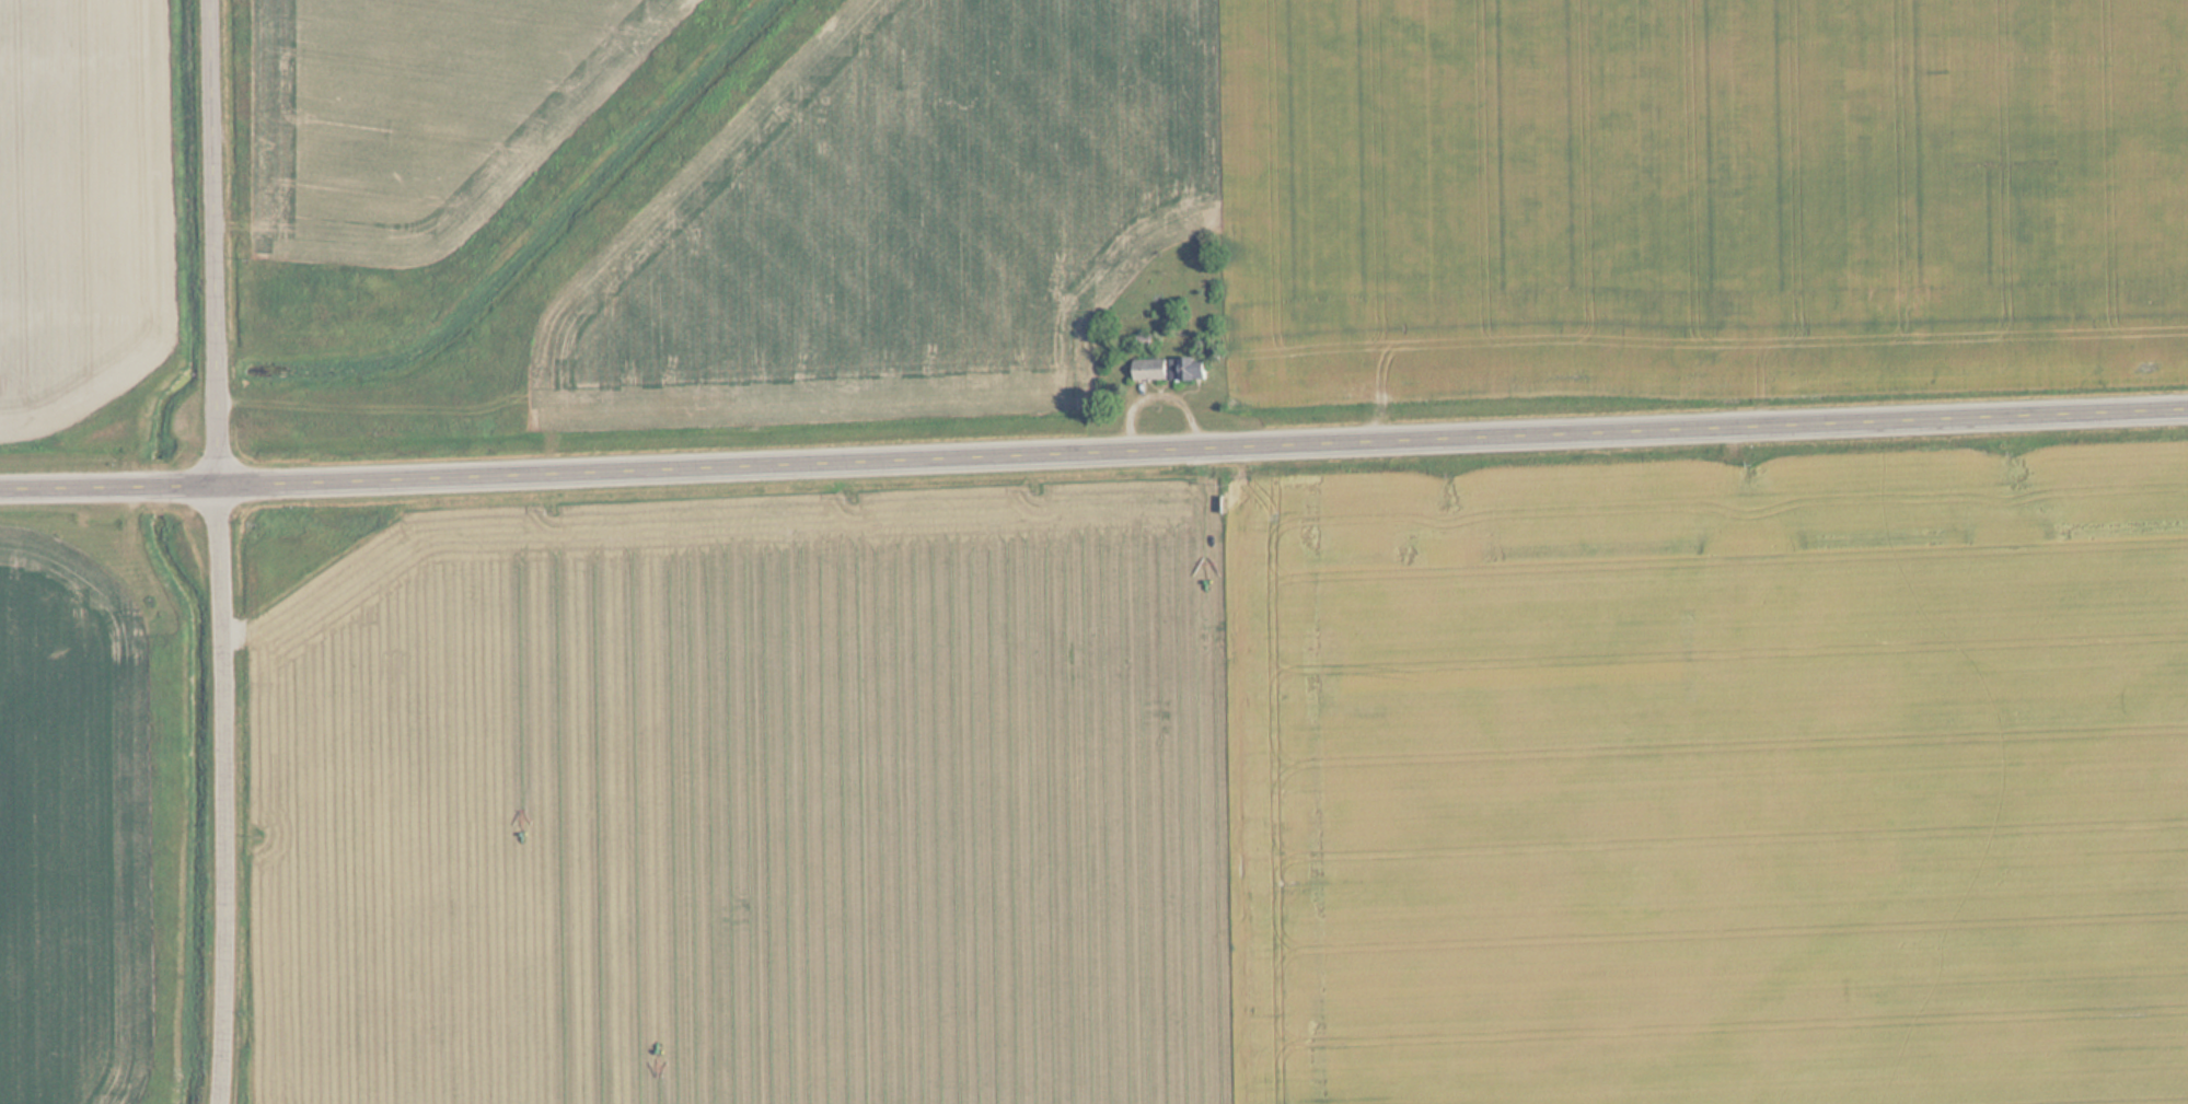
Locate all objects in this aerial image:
building: (1174, 369)
road: (1093, 448)
road: (228, 551)
road: (1739, 637)

